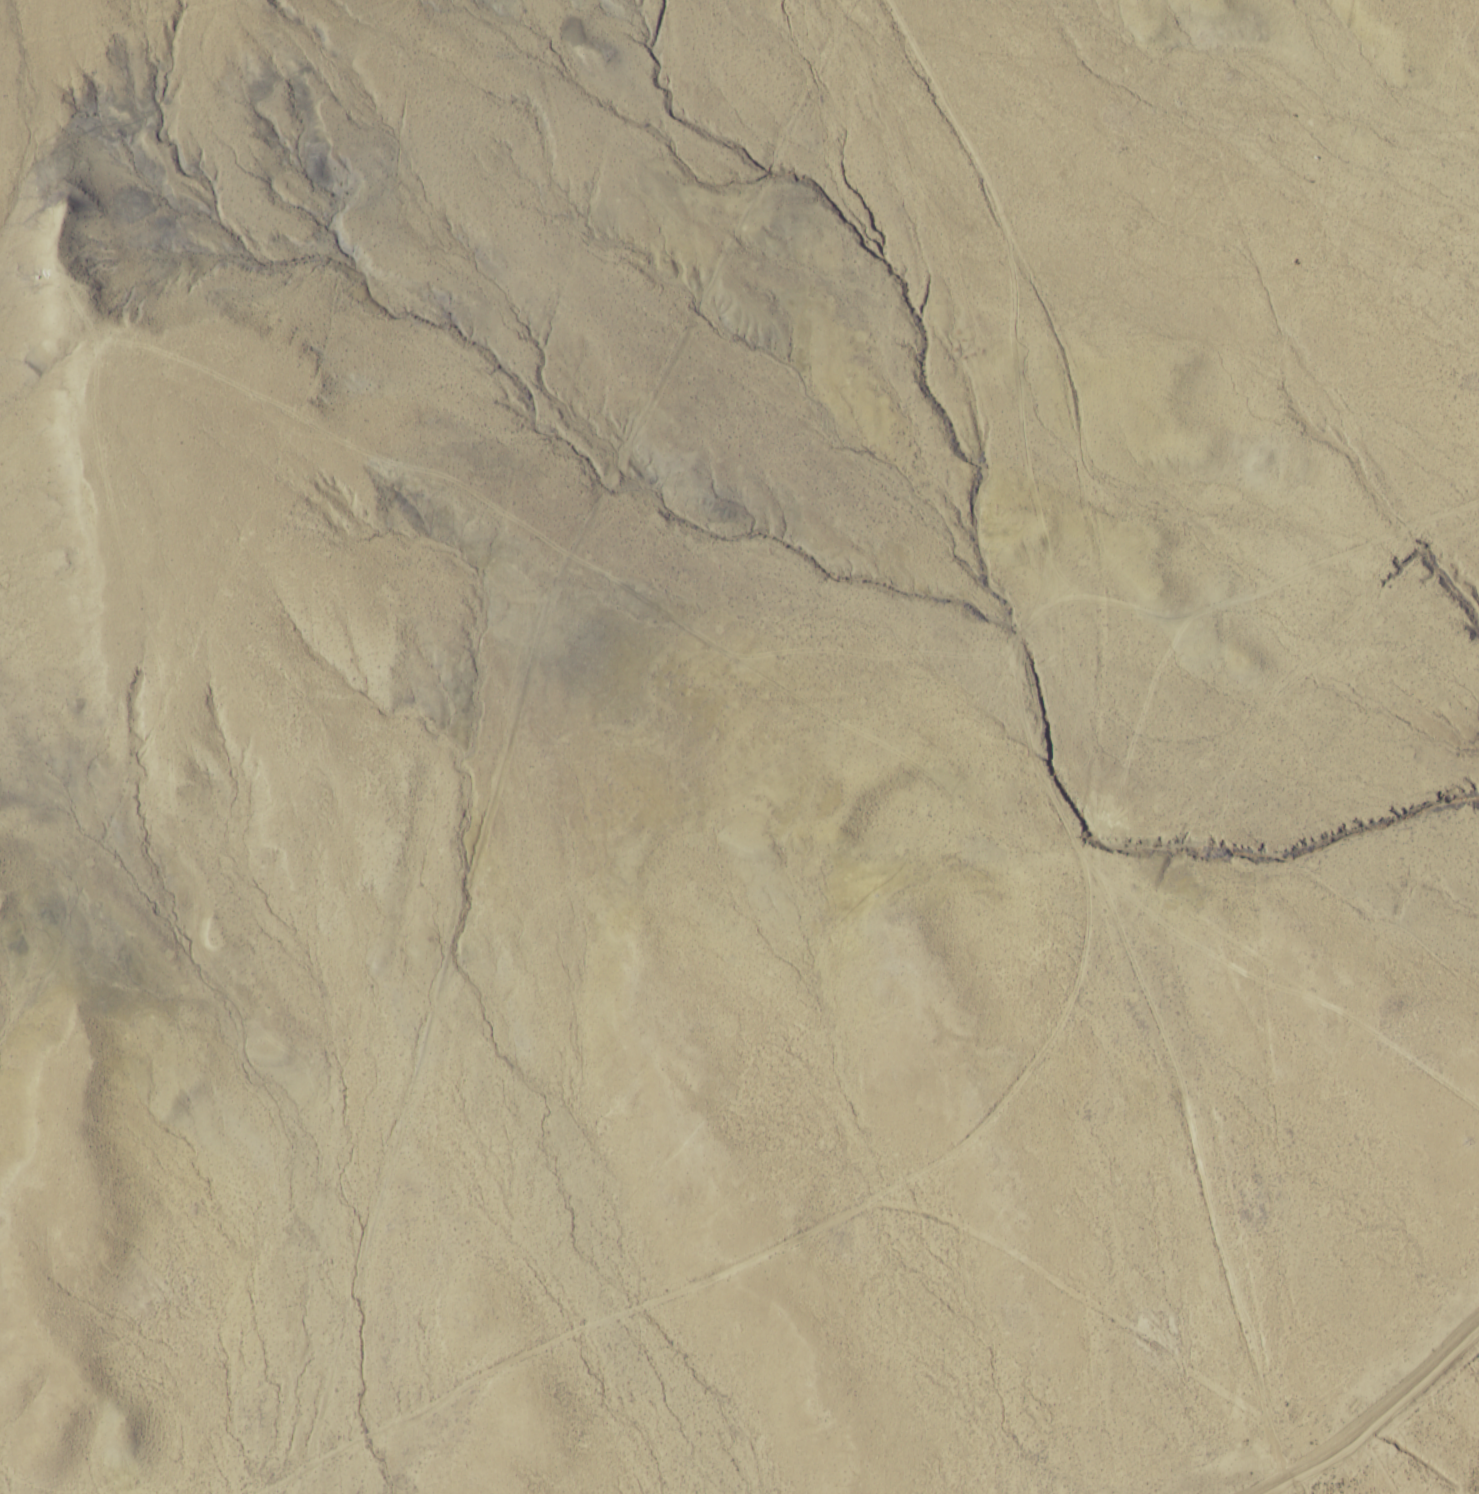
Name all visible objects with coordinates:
road: (1310, 737)
road: (1231, 1201)
road: (790, 1267)

